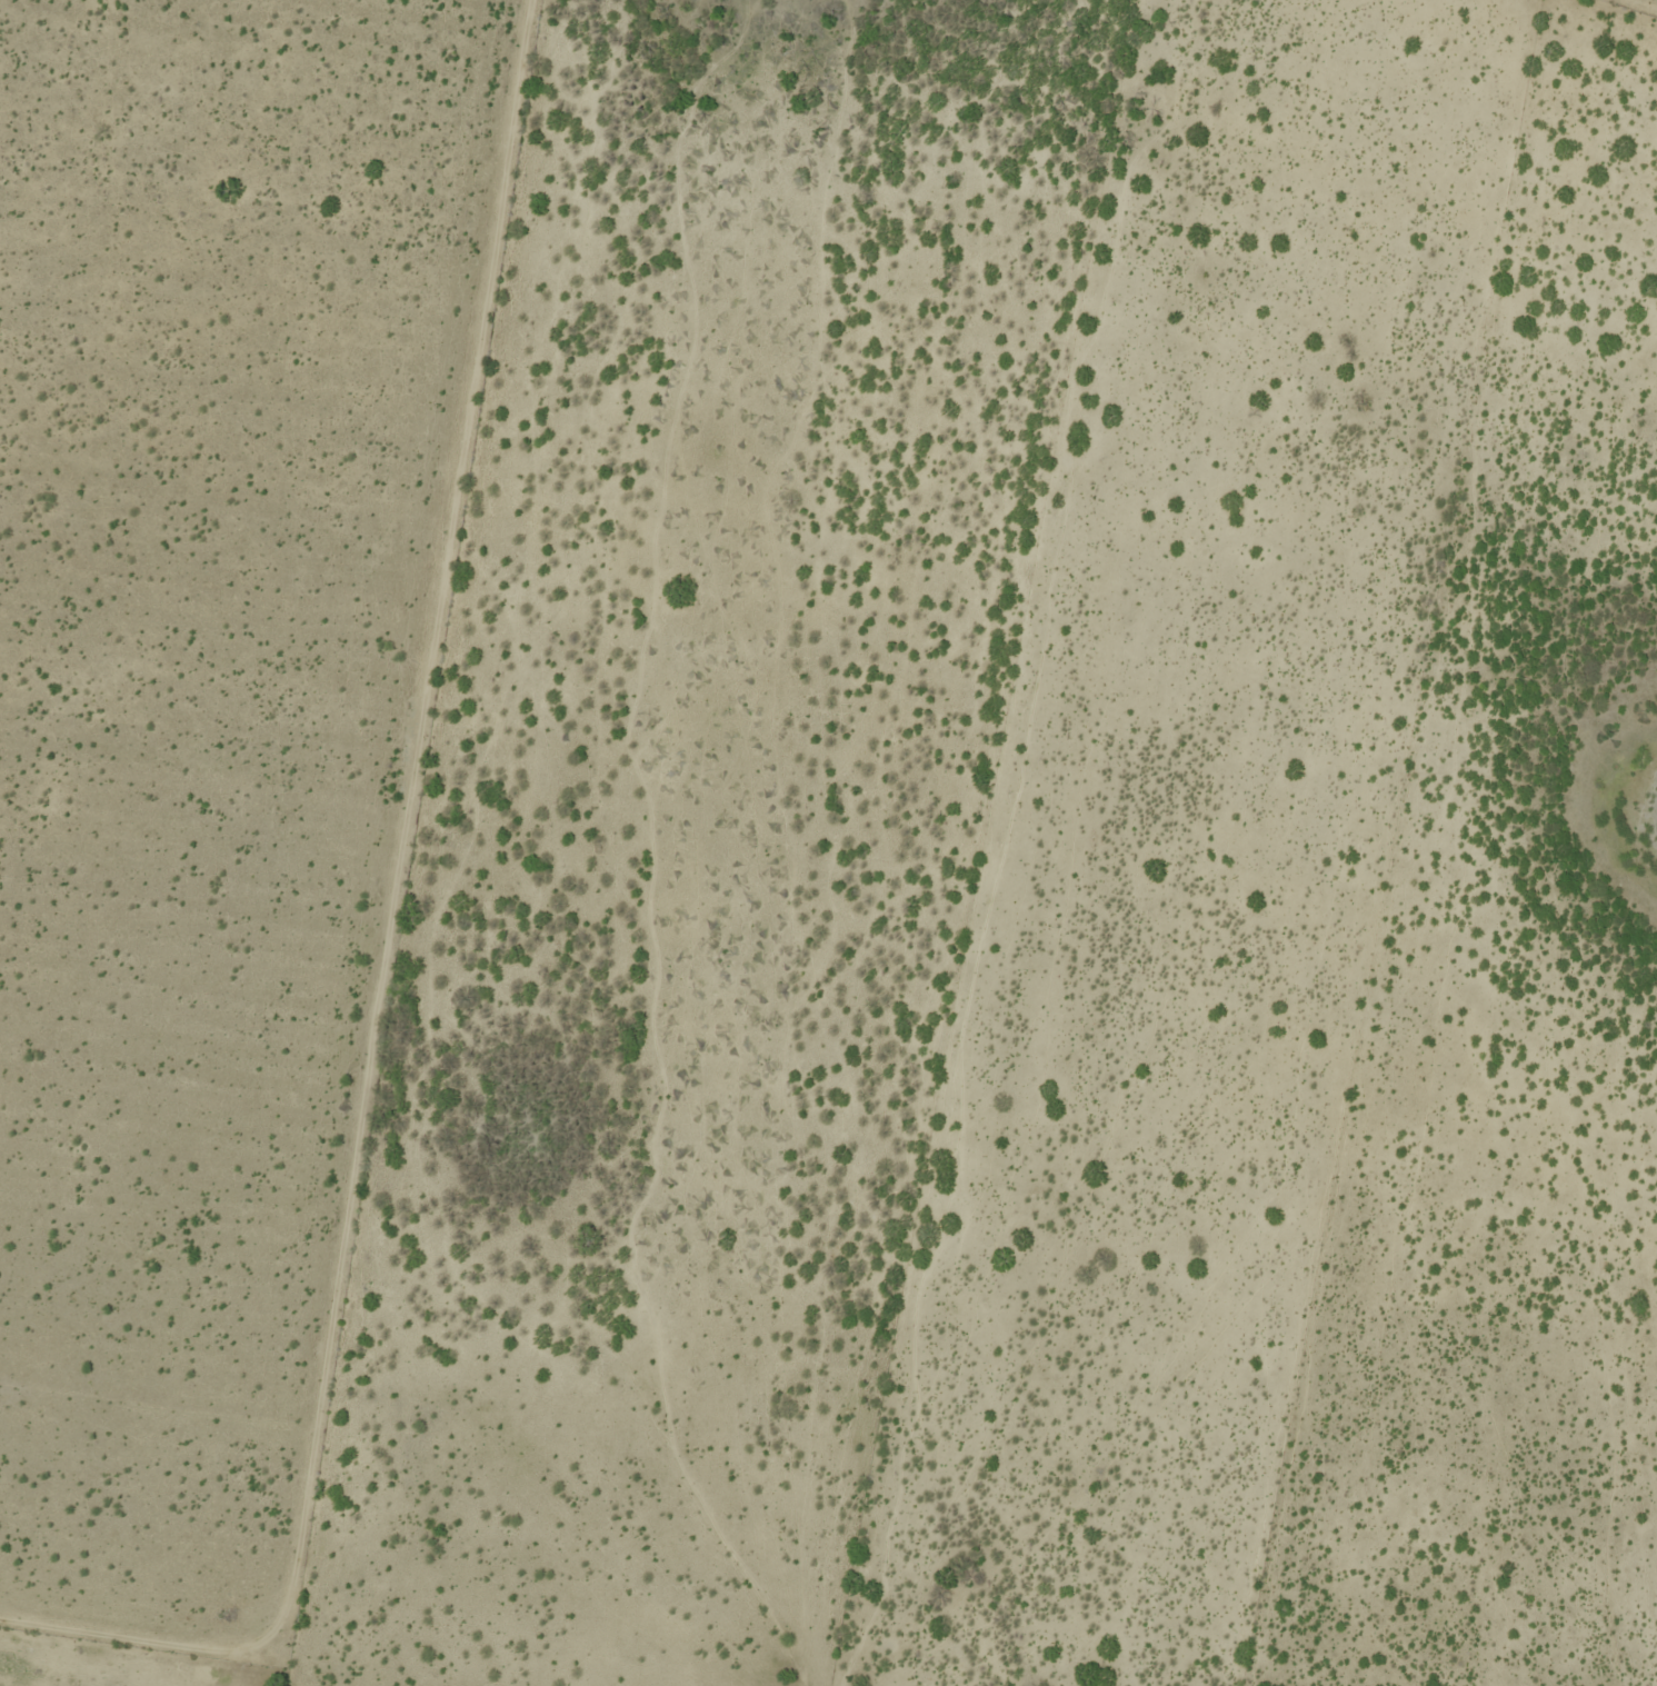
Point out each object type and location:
road: (1651, 1)

